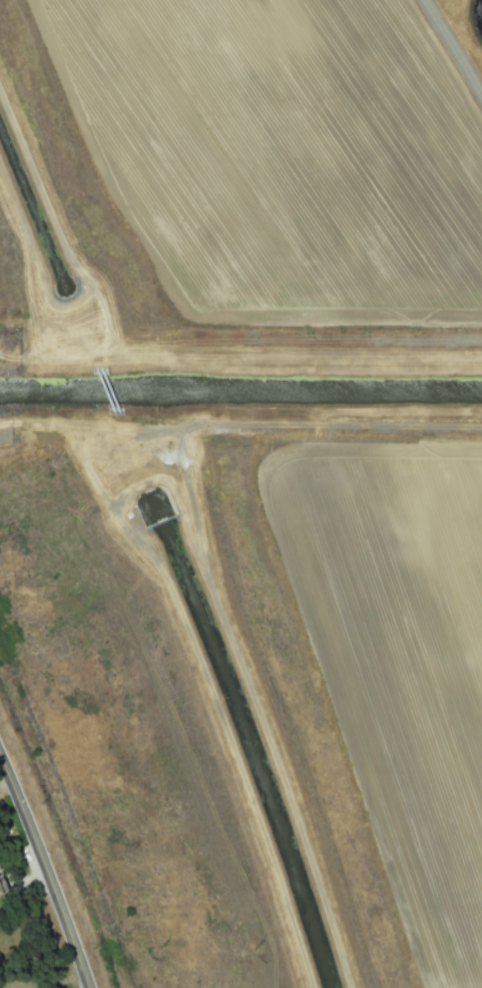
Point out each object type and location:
road: (47, 868)
building: (2, 886)

